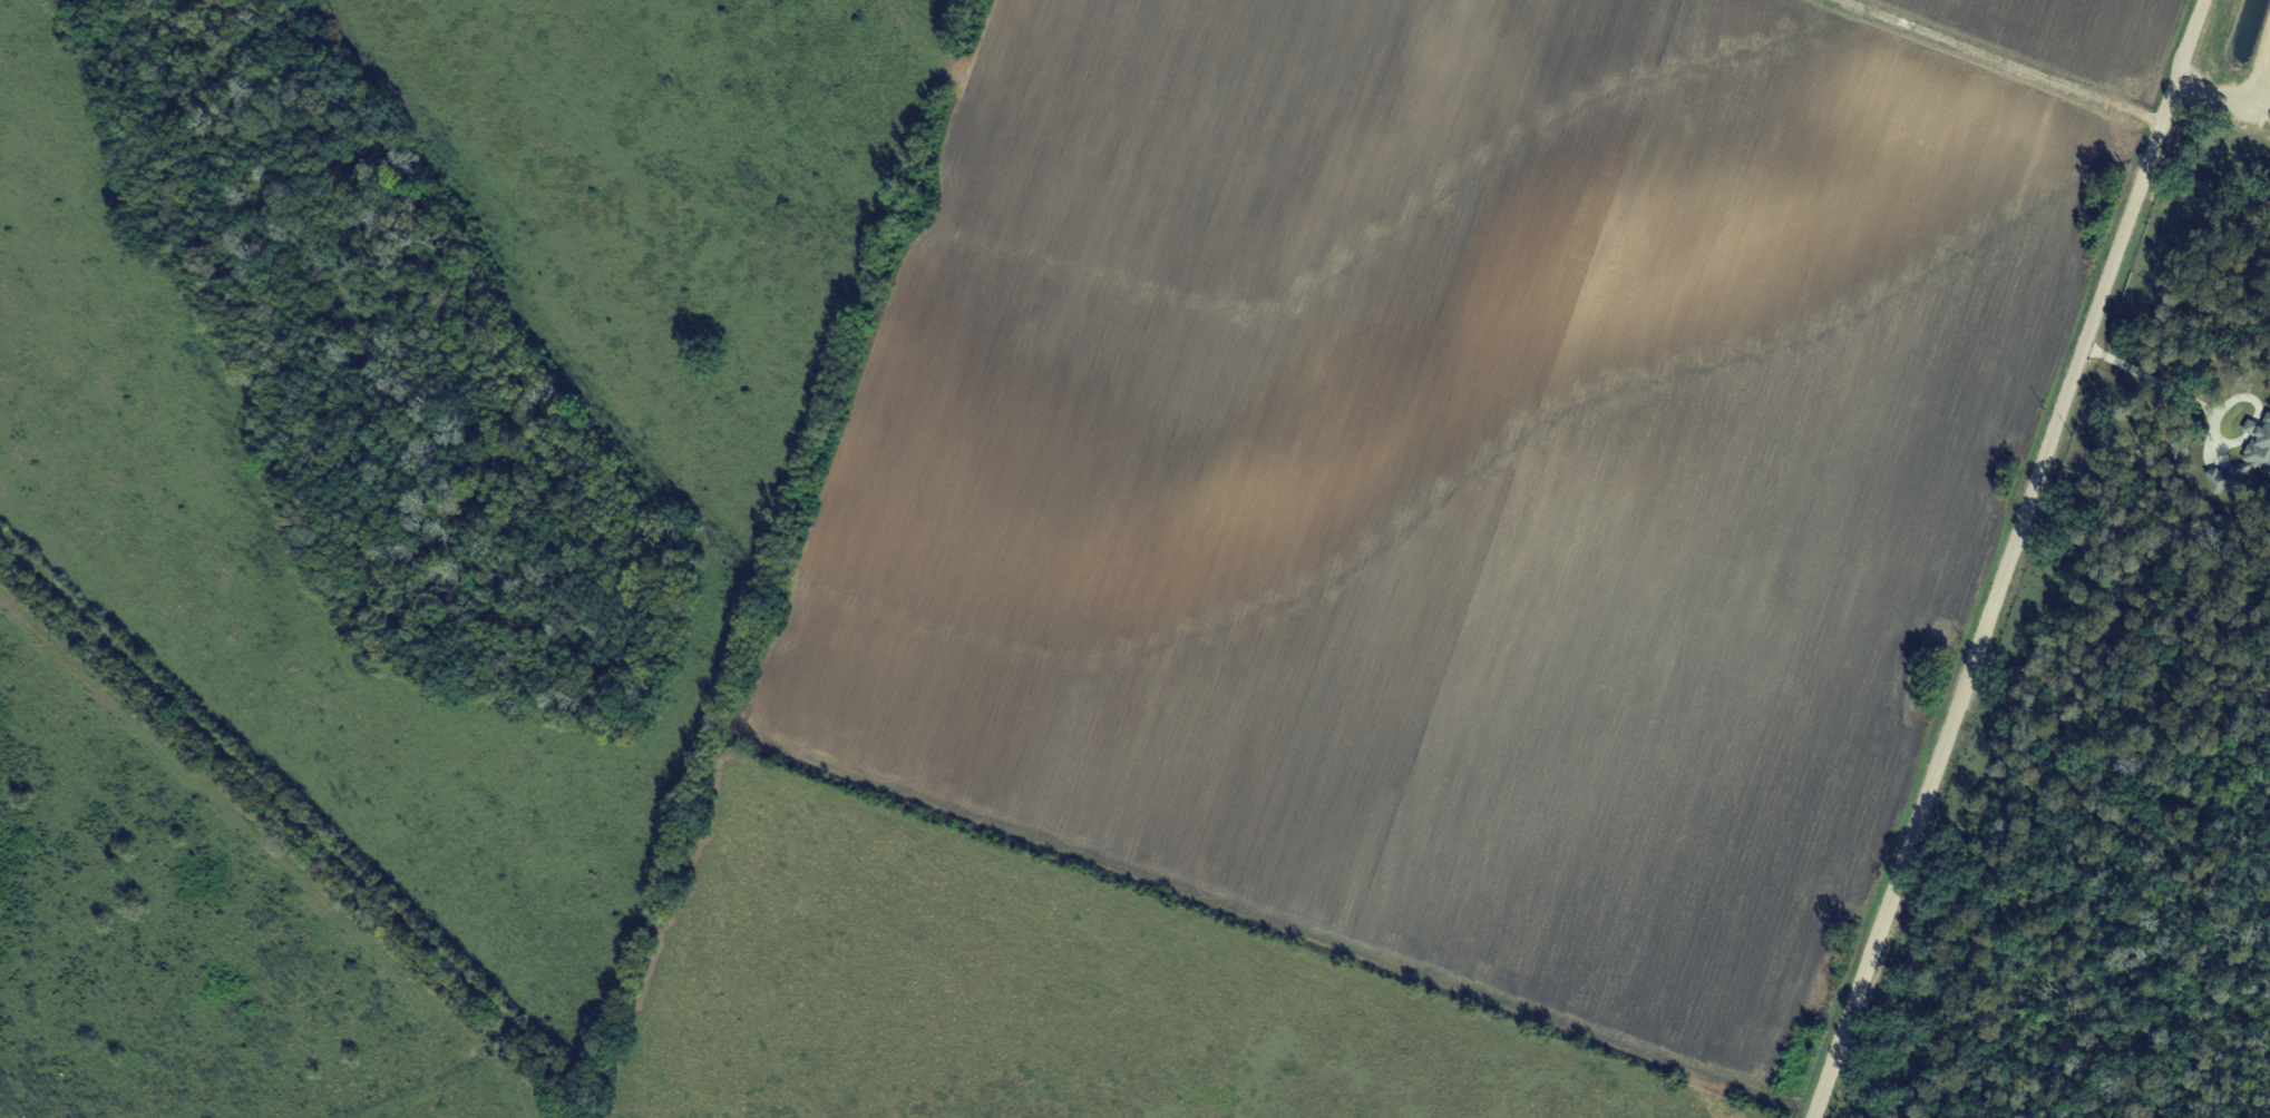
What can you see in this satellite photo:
road: (2241, 84)
road: (2188, 391)
road: (2257, 421)
road: (2225, 434)
building: (2258, 459)
road: (2021, 559)

